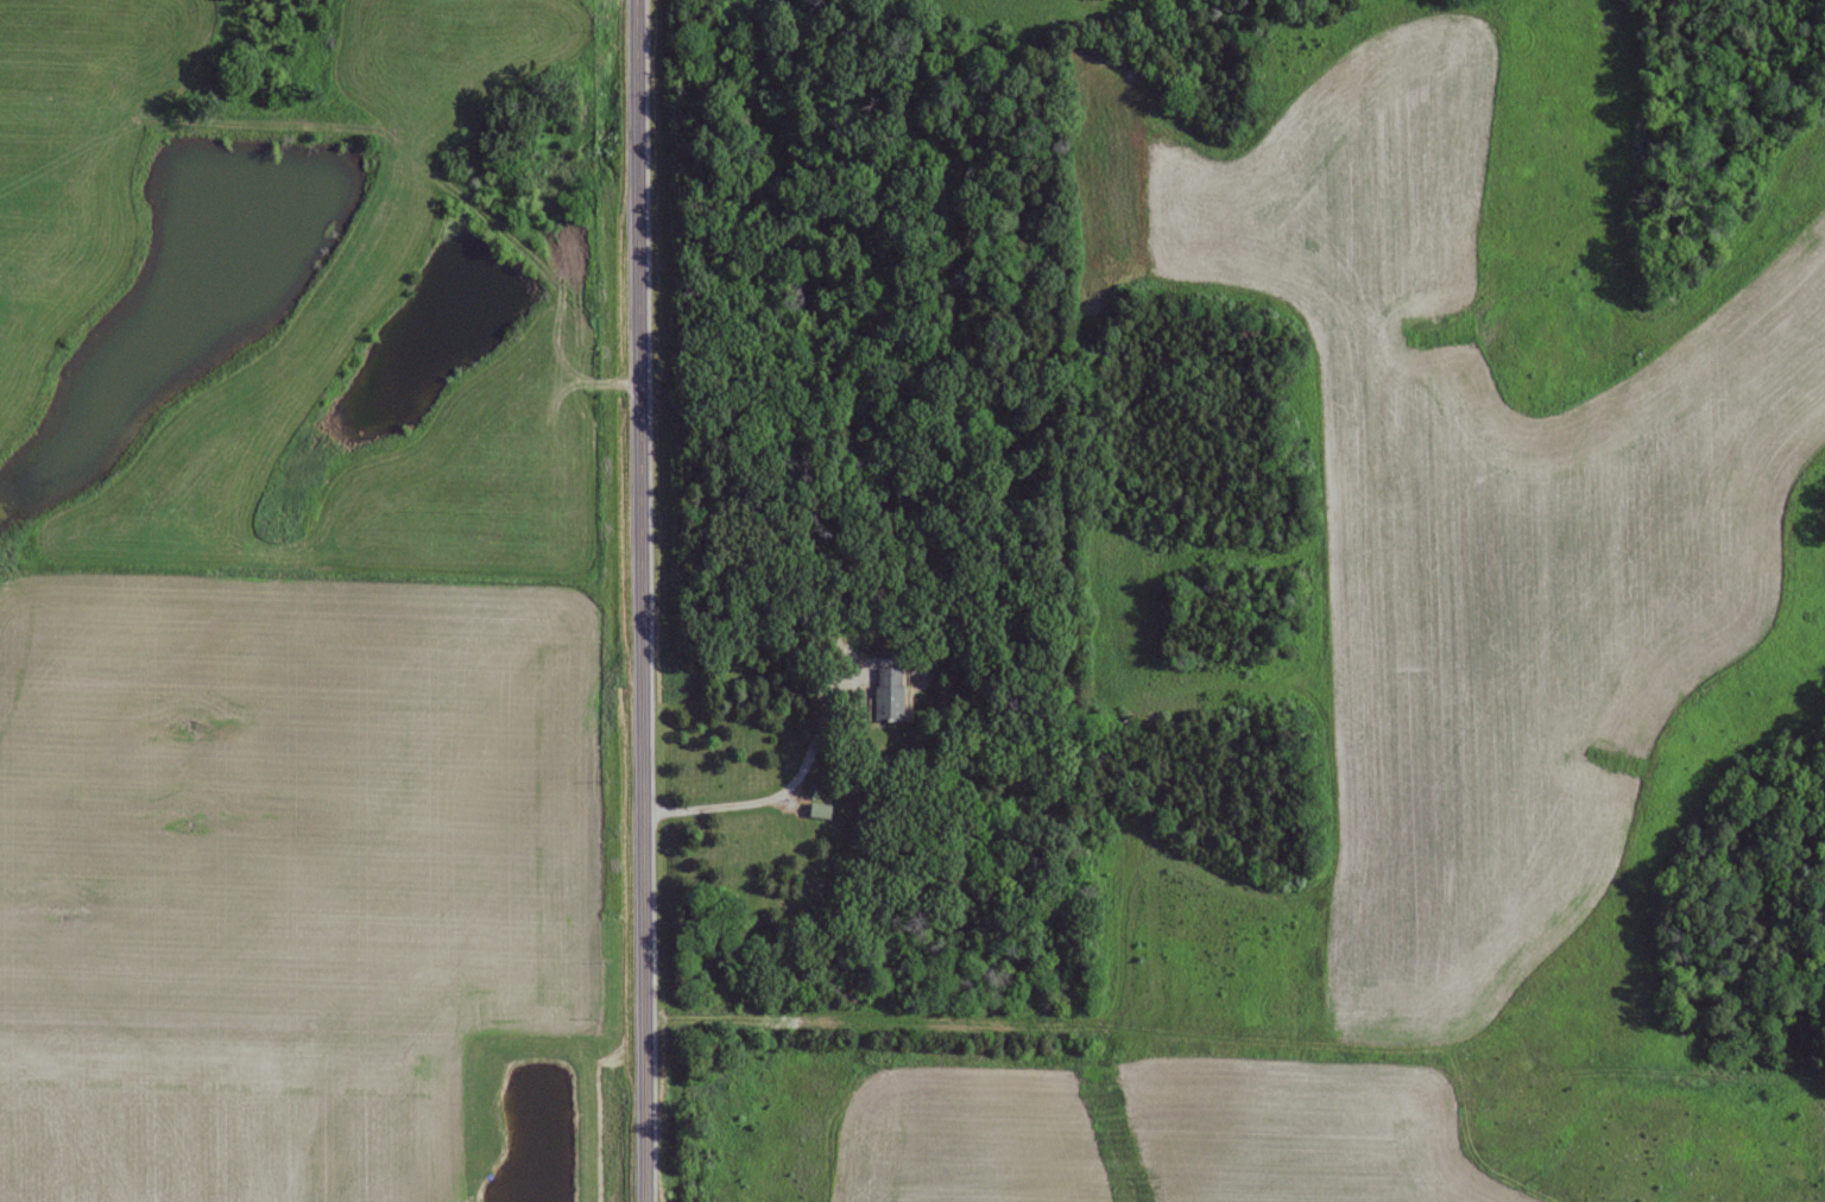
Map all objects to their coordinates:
road: (643, 601)
building: (889, 691)
building: (820, 809)

